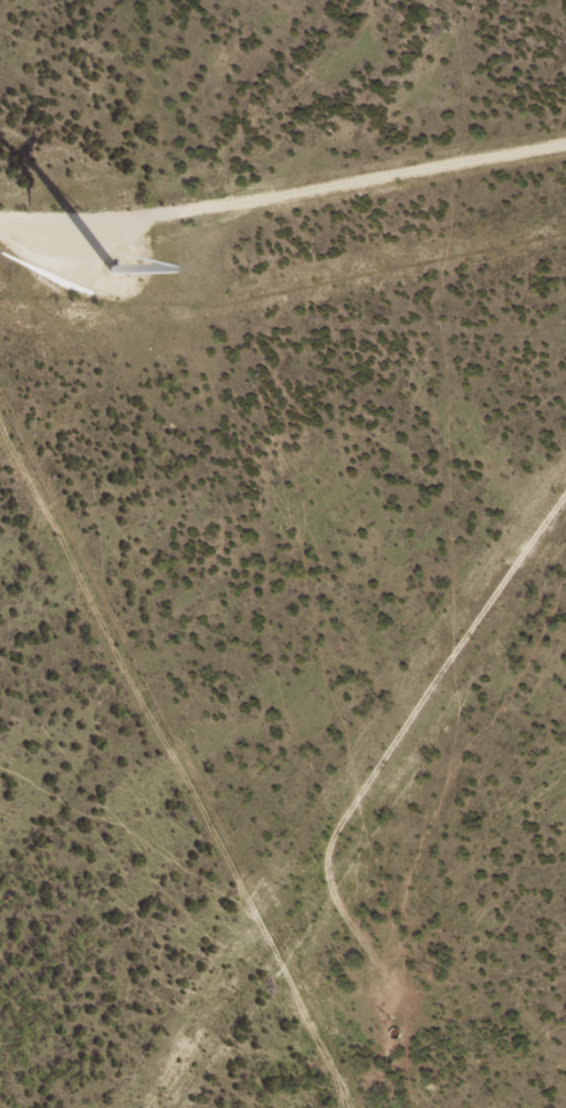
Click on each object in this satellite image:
wind turbine: (132, 278)

